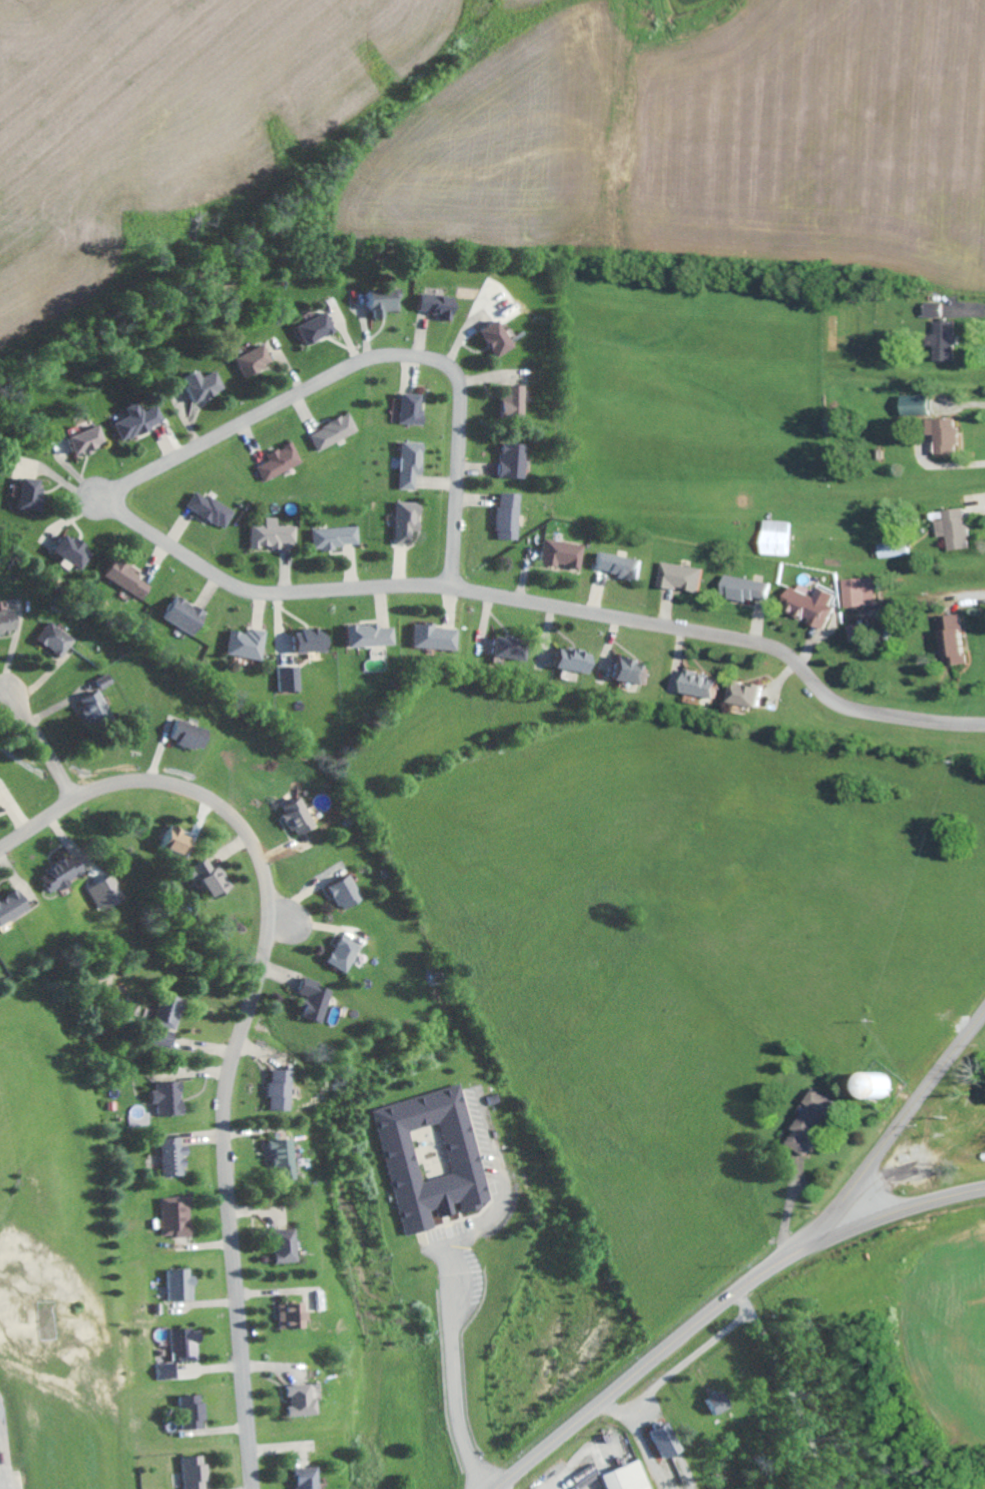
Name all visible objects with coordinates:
building: (378, 301)
building: (432, 305)
building: (932, 309)
building: (312, 327)
building: (490, 338)
building: (942, 340)
road: (382, 357)
building: (249, 359)
building: (198, 384)
building: (507, 400)
building: (914, 404)
building: (406, 408)
building: (132, 420)
building: (330, 432)
building: (942, 434)
building: (81, 439)
building: (509, 460)
building: (277, 461)
building: (406, 464)
road: (944, 465)
building: (23, 493)
building: (207, 509)
building: (504, 516)
building: (402, 521)
building: (953, 528)
building: (268, 534)
building: (332, 537)
building: (774, 537)
building: (891, 549)
building: (68, 551)
building: (557, 554)
building: (613, 565)
building: (678, 576)
building: (125, 578)
building: (743, 588)
building: (857, 592)
road: (538, 602)
building: (807, 605)
road: (924, 605)
building: (180, 615)
building: (6, 621)
building: (852, 633)
building: (364, 635)
building: (430, 637)
building: (52, 639)
building: (304, 640)
building: (950, 640)
building: (243, 643)
building: (504, 648)
building: (567, 660)
building: (626, 671)
building: (286, 678)
building: (102, 681)
building: (695, 684)
building: (741, 693)
building: (91, 703)
building: (184, 734)
road: (44, 746)
building: (293, 816)
building: (171, 841)
building: (55, 872)
building: (206, 879)
building: (340, 892)
building: (9, 904)
building: (339, 953)
building: (309, 1000)
road: (243, 1017)
building: (160, 1018)
building: (870, 1084)
building: (272, 1090)
building: (159, 1098)
building: (809, 1120)
road: (902, 1128)
building: (167, 1157)
building: (426, 1157)
building: (274, 1159)
building: (170, 1217)
building: (276, 1246)
building: (174, 1285)
road: (721, 1305)
building: (285, 1316)
building: (181, 1344)
road: (685, 1362)
building: (163, 1371)
road: (784, 1389)
road: (459, 1392)
building: (291, 1401)
building: (712, 1401)
road: (611, 1407)
building: (188, 1412)
building: (659, 1438)
road: (646, 1449)
building: (190, 1472)
building: (620, 1477)
building: (297, 1478)
road: (498, 1488)

